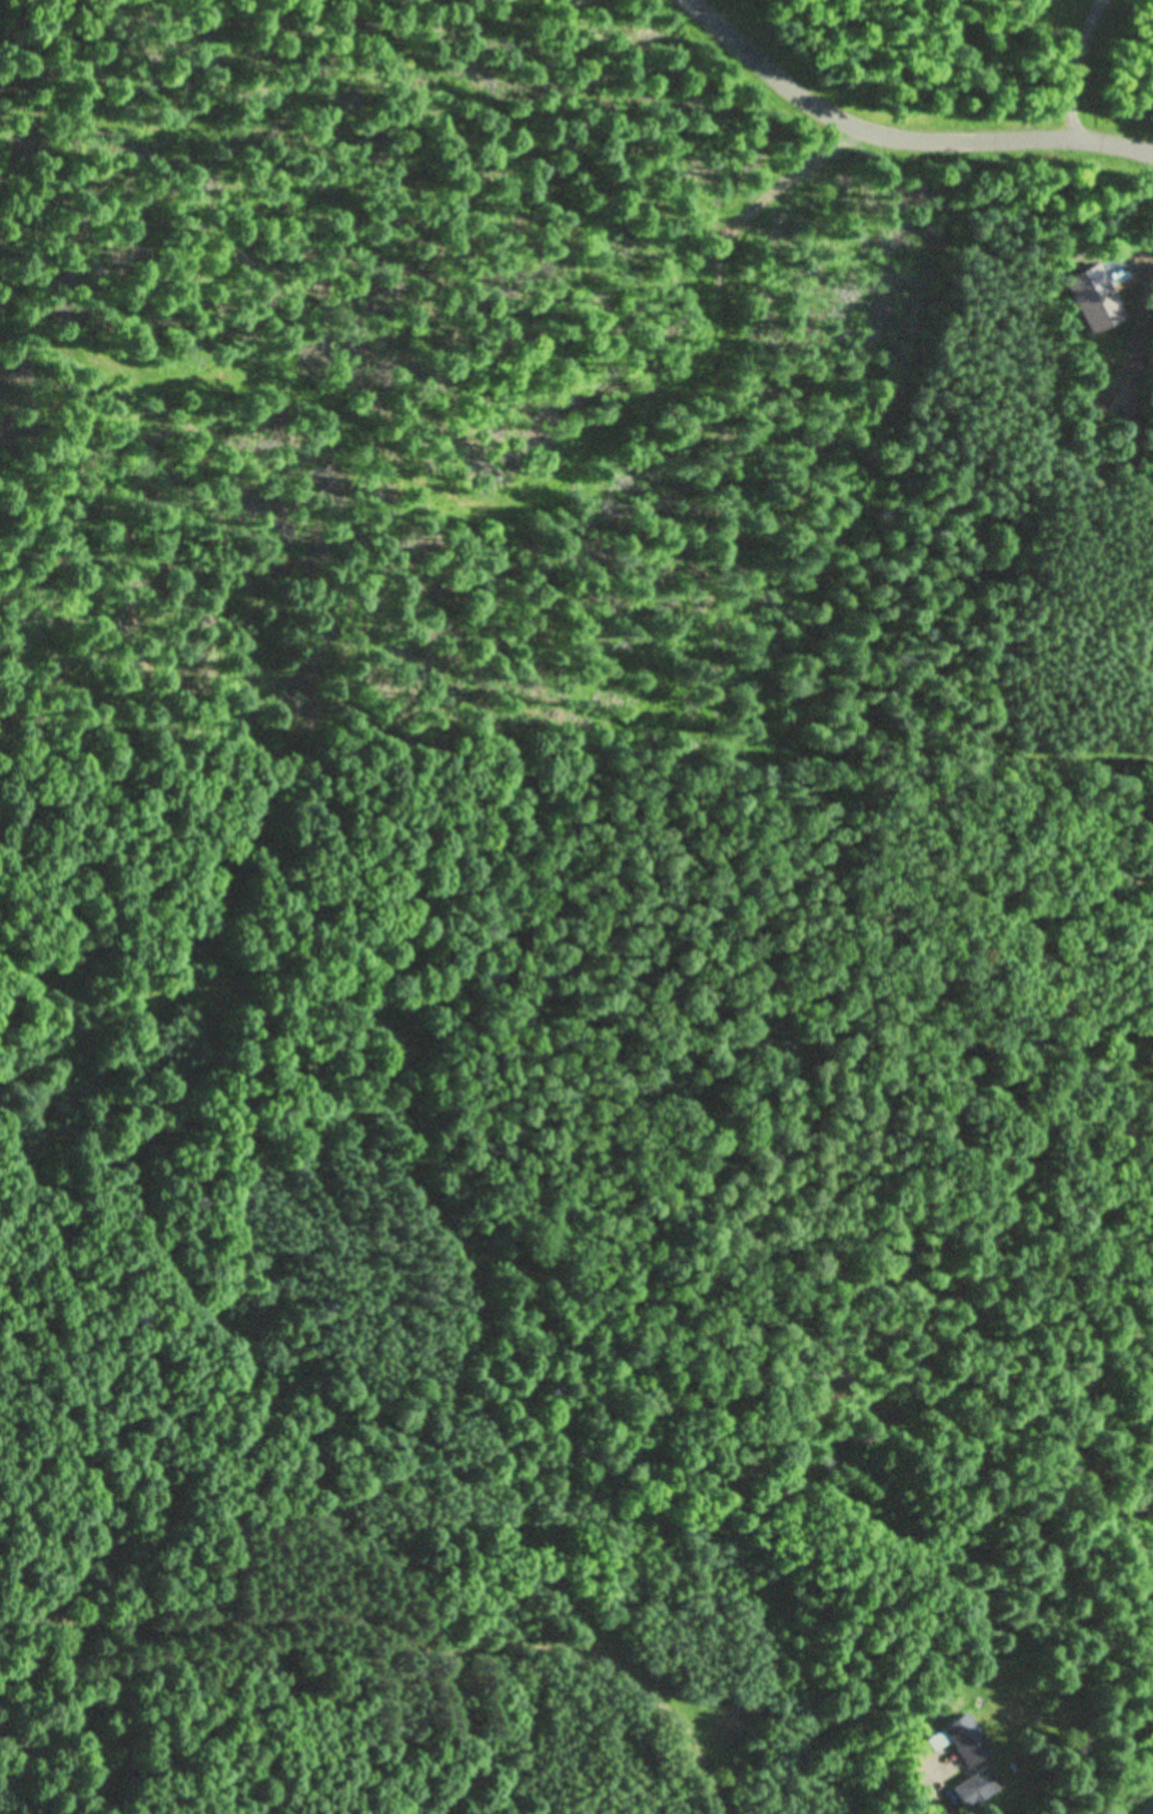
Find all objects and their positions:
road: (895, 140)
building: (966, 1741)
building: (977, 1788)
road: (1149, 1810)

